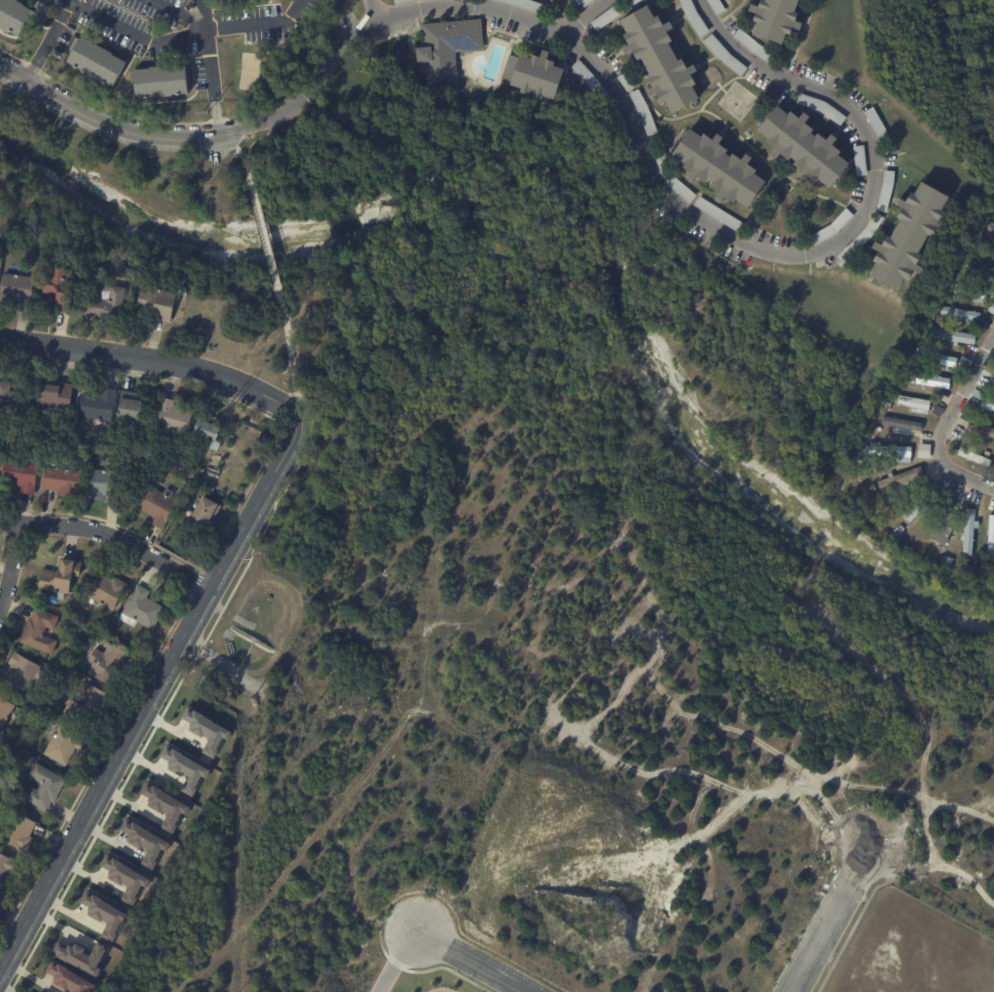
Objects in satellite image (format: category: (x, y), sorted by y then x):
building: (631, 1)
building: (585, 2)
building: (527, 5)
road: (374, 8)
road: (177, 10)
building: (21, 15)
road: (587, 16)
building: (605, 17)
building: (694, 17)
building: (779, 19)
road: (260, 23)
road: (136, 33)
road: (49, 41)
building: (753, 45)
building: (449, 50)
building: (724, 54)
building: (662, 59)
building: (96, 61)
road: (210, 67)
building: (539, 77)
building: (625, 81)
building: (162, 82)
road: (312, 85)
building: (595, 85)
building: (643, 112)
road: (109, 122)
building: (805, 147)
road: (243, 155)
building: (860, 160)
building: (722, 168)
building: (681, 188)
building: (718, 214)
building: (993, 217)
building: (989, 228)
road: (725, 233)
road: (264, 234)
building: (912, 236)
building: (859, 239)
building: (10, 251)
building: (980, 270)
building: (966, 276)
building: (63, 288)
building: (18, 289)
building: (186, 291)
building: (975, 291)
building: (950, 296)
building: (107, 302)
building: (159, 304)
building: (991, 307)
building: (959, 314)
building: (952, 334)
road: (288, 350)
road: (154, 358)
building: (937, 359)
building: (964, 361)
building: (927, 379)
building: (992, 383)
building: (901, 385)
building: (977, 393)
building: (59, 394)
building: (14, 401)
building: (131, 404)
building: (100, 405)
building: (886, 405)
building: (911, 405)
building: (988, 405)
building: (937, 409)
building: (176, 417)
road: (944, 421)
building: (900, 422)
building: (993, 424)
building: (878, 427)
building: (979, 430)
building: (212, 432)
building: (890, 452)
building: (975, 455)
building: (23, 474)
building: (900, 478)
building: (65, 479)
building: (107, 484)
building: (207, 487)
building: (159, 505)
building: (923, 505)
building: (207, 513)
building: (943, 526)
building: (901, 528)
building: (969, 531)
road: (110, 535)
building: (990, 535)
building: (947, 561)
road: (11, 566)
building: (63, 577)
building: (109, 590)
building: (44, 595)
building: (144, 609)
building: (42, 631)
building: (108, 663)
building: (24, 674)
road: (152, 694)
building: (92, 706)
building: (6, 712)
building: (206, 730)
building: (65, 743)
building: (185, 769)
building: (46, 787)
building: (165, 805)
building: (20, 831)
building: (145, 842)
building: (7, 868)
building: (125, 878)
building: (105, 915)
road: (834, 917)
building: (82, 956)
road: (395, 960)
road: (471, 960)
building: (69, 978)
building: (29, 991)

